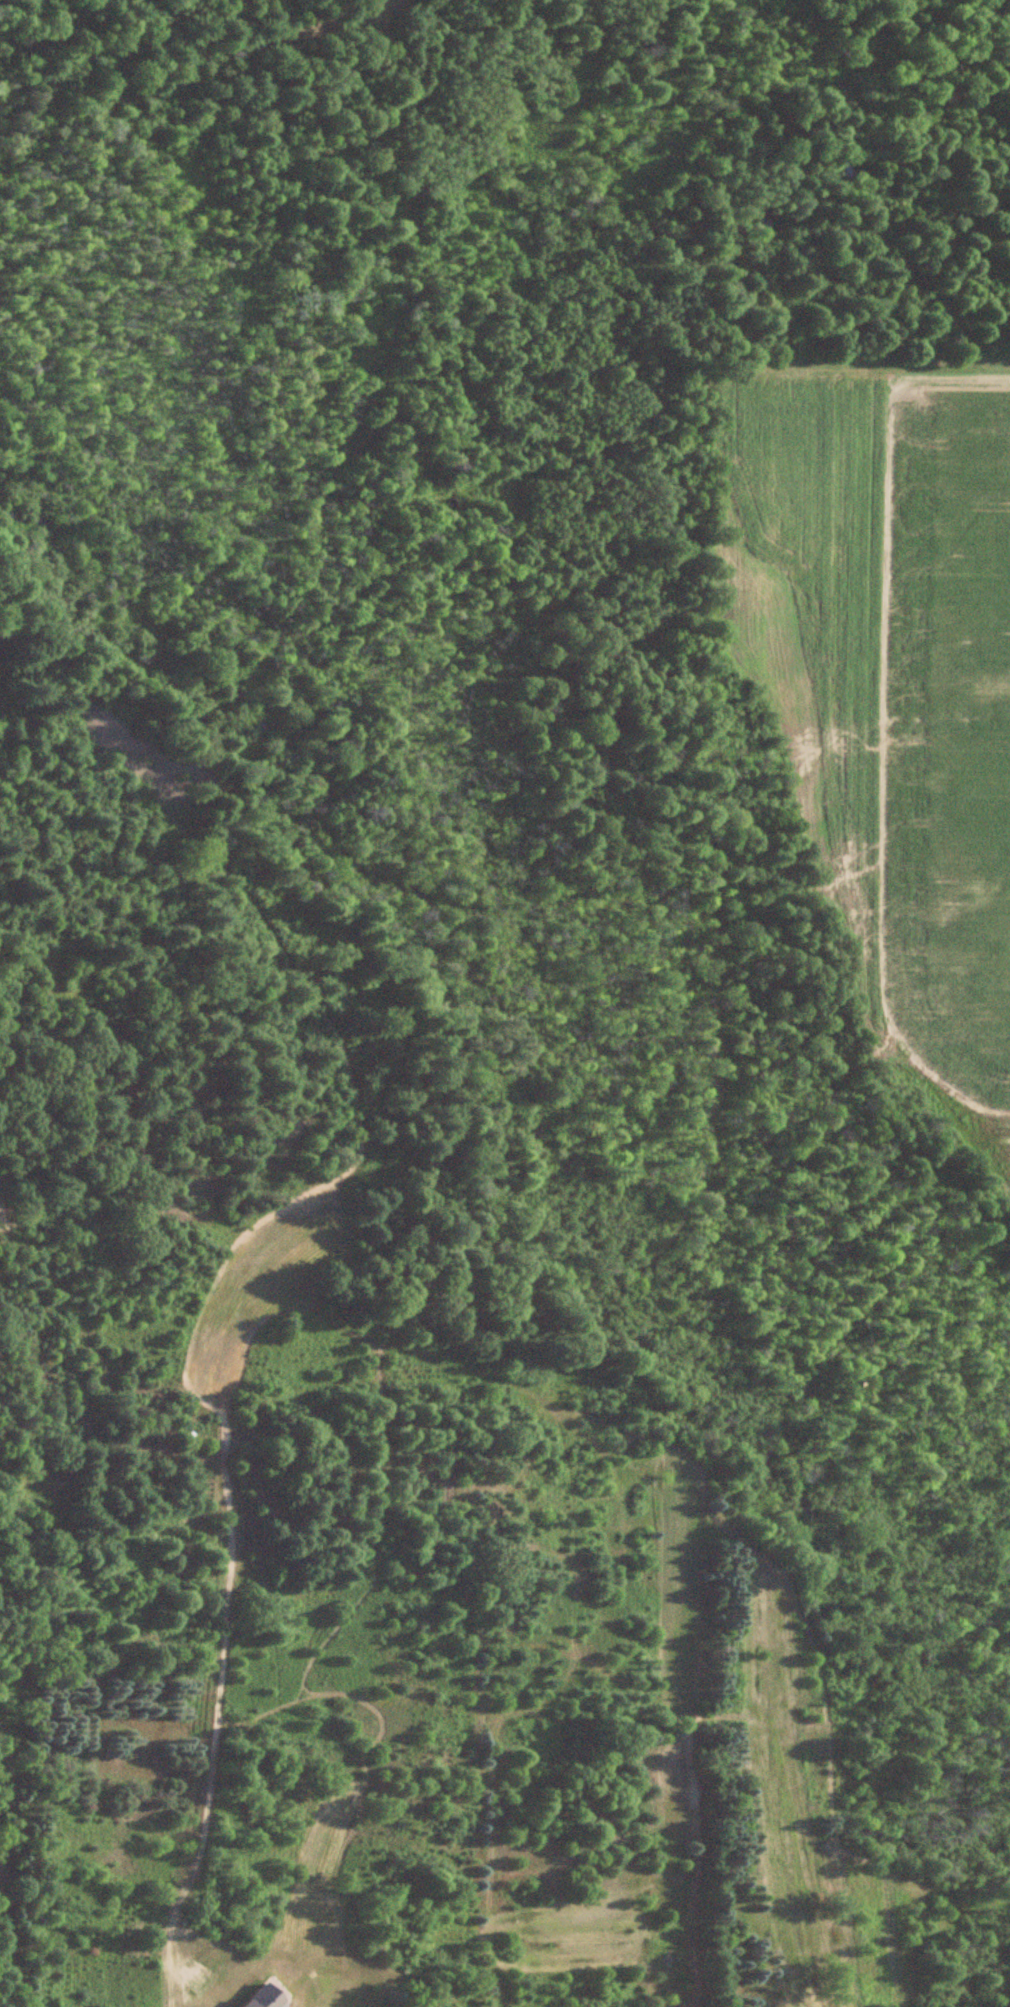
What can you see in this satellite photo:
building: (343, 1985)

